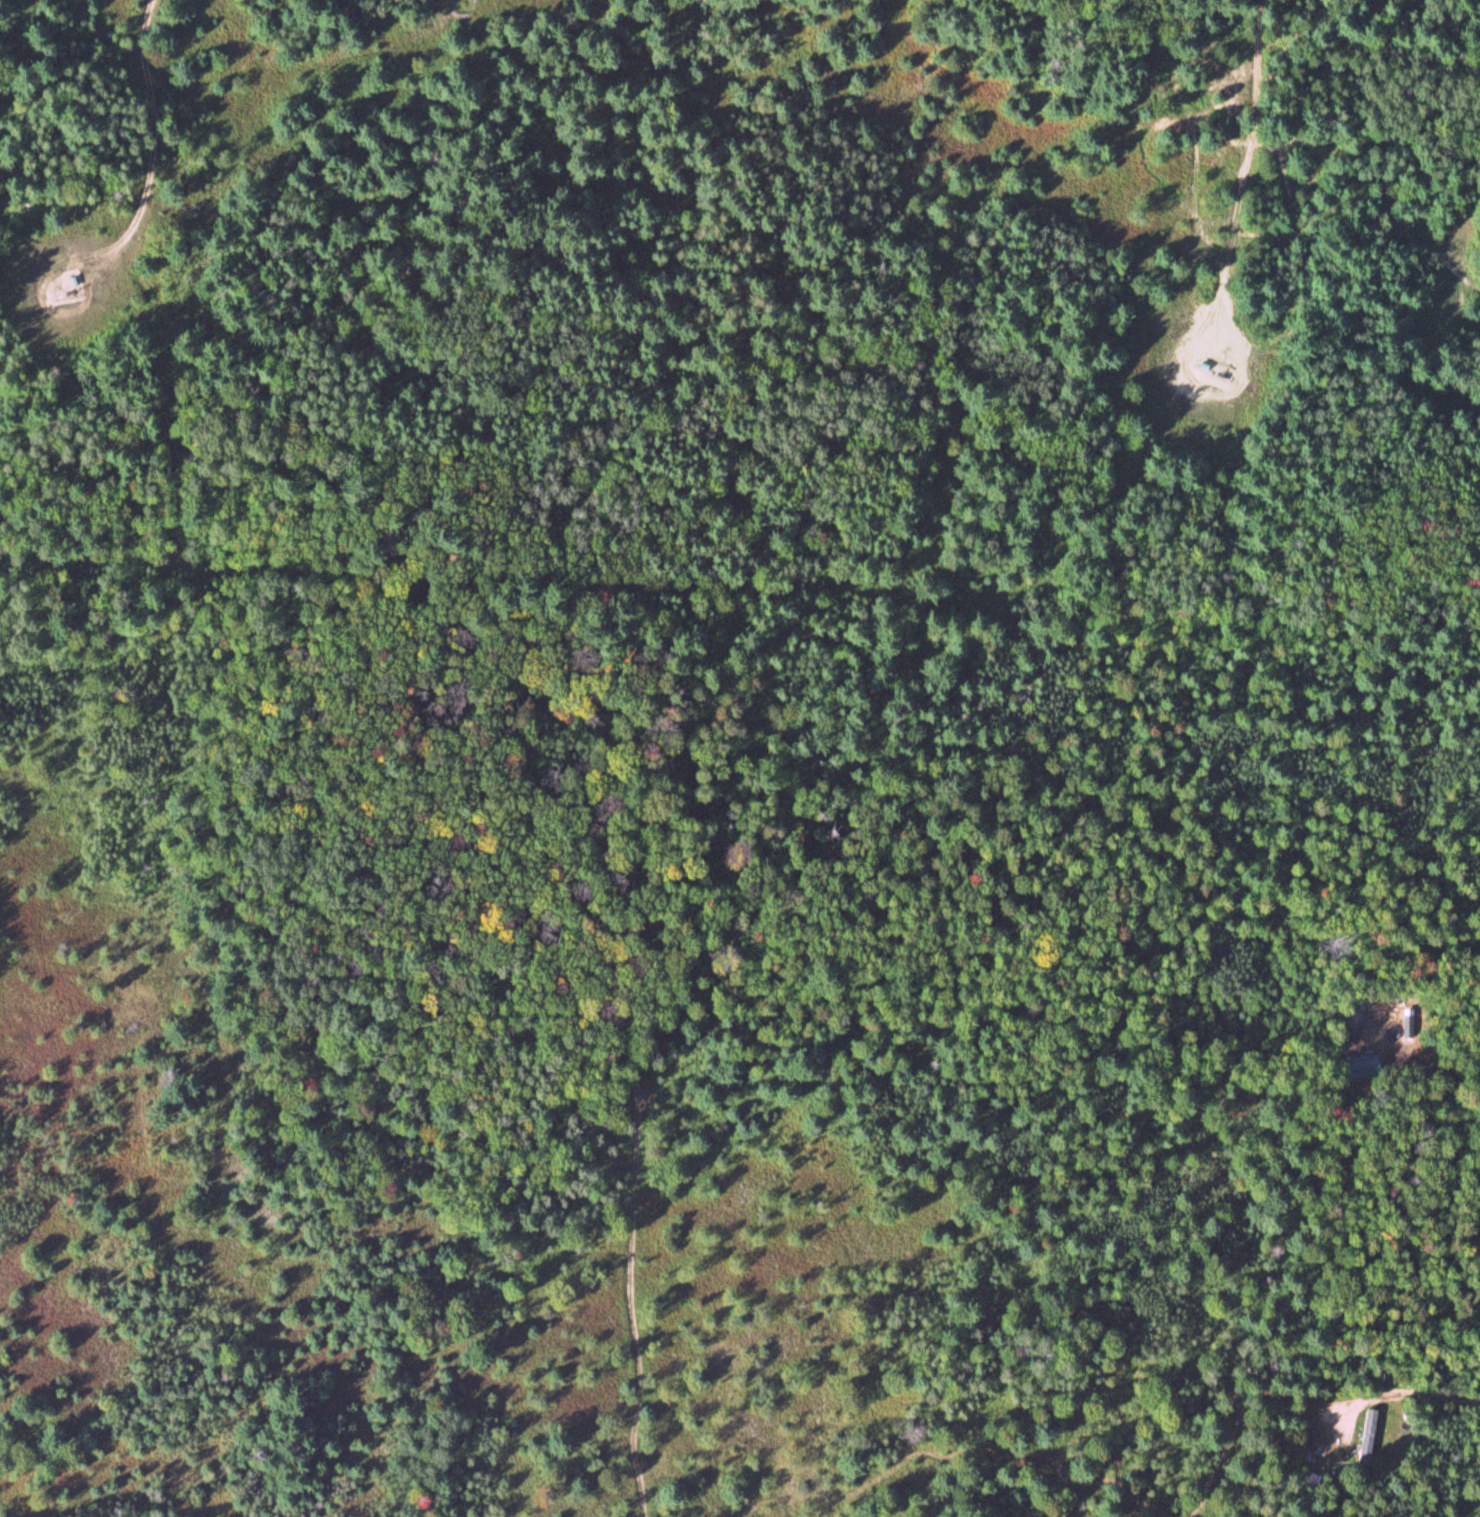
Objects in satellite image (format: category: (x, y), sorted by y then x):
building: (1358, 1068)
building: (1367, 1437)
building: (1313, 1478)

